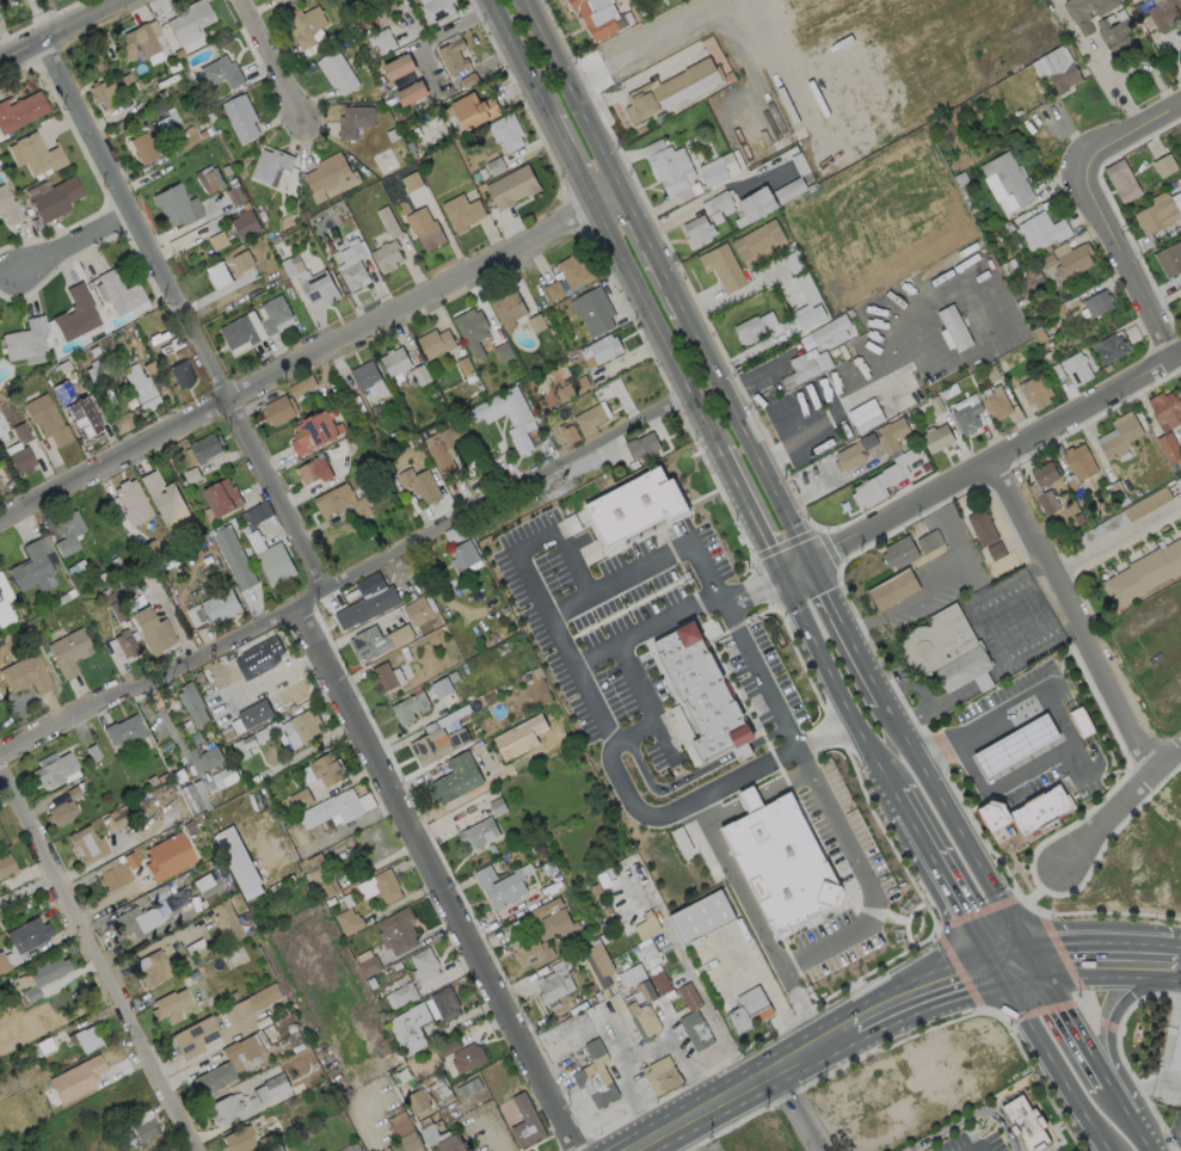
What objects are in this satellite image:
building: (279, 1)
building: (436, 10)
building: (1087, 11)
building: (1163, 12)
building: (597, 17)
building: (189, 21)
building: (306, 25)
road: (60, 29)
building: (1114, 35)
road: (435, 36)
building: (382, 41)
building: (137, 42)
road: (5, 43)
building: (453, 56)
road: (518, 59)
road: (273, 64)
building: (399, 67)
building: (1057, 68)
building: (220, 72)
building: (337, 72)
building: (670, 90)
building: (102, 93)
building: (411, 93)
road: (574, 98)
building: (20, 110)
building: (474, 110)
building: (240, 117)
building: (353, 121)
road: (1130, 127)
building: (506, 133)
building: (142, 148)
building: (38, 153)
building: (270, 165)
road: (572, 165)
building: (671, 167)
building: (718, 170)
building: (328, 176)
building: (1009, 176)
building: (209, 180)
building: (411, 180)
building: (1121, 181)
building: (512, 187)
building: (793, 187)
building: (687, 192)
road: (714, 192)
building: (54, 198)
building: (756, 203)
building: (174, 205)
building: (10, 207)
building: (462, 213)
building: (1156, 215)
building: (388, 222)
building: (245, 223)
building: (424, 228)
building: (696, 230)
building: (1041, 230)
building: (217, 240)
road: (75, 241)
building: (758, 242)
road: (653, 253)
building: (386, 256)
road: (1126, 257)
building: (1169, 259)
building: (242, 260)
building: (1072, 261)
building: (722, 266)
building: (573, 271)
building: (219, 273)
building: (353, 276)
building: (319, 288)
building: (807, 289)
building: (553, 290)
building: (119, 293)
building: (1096, 302)
building: (508, 309)
building: (592, 310)
building: (275, 313)
building: (75, 314)
road: (182, 315)
building: (802, 320)
building: (535, 322)
building: (954, 327)
building: (749, 328)
building: (470, 331)
road: (656, 331)
building: (238, 332)
building: (826, 333)
building: (24, 340)
building: (433, 343)
building: (603, 347)
building: (1109, 347)
building: (165, 349)
road: (312, 357)
building: (395, 363)
building: (805, 367)
building: (1076, 369)
building: (180, 374)
building: (367, 376)
building: (579, 382)
building: (142, 384)
building: (301, 386)
building: (1034, 390)
road: (835, 404)
building: (997, 404)
building: (498, 408)
building: (278, 410)
building: (1165, 410)
building: (967, 418)
building: (45, 419)
building: (81, 419)
building: (588, 419)
building: (314, 431)
building: (20, 432)
building: (568, 433)
building: (1121, 436)
road: (746, 437)
building: (936, 438)
building: (519, 441)
building: (871, 444)
building: (444, 445)
building: (641, 445)
building: (205, 447)
building: (1168, 447)
building: (20, 460)
road: (998, 466)
building: (1078, 466)
building: (314, 470)
building: (1045, 474)
building: (0, 485)
building: (419, 485)
building: (874, 486)
building: (222, 497)
building: (162, 499)
building: (338, 500)
building: (131, 501)
building: (635, 506)
road: (749, 513)
building: (983, 528)
building: (68, 533)
road: (555, 537)
road: (1118, 538)
building: (898, 553)
building: (462, 554)
building: (234, 558)
building: (275, 564)
building: (32, 566)
road: (795, 570)
building: (1143, 573)
road: (346, 579)
building: (893, 589)
road: (755, 590)
building: (4, 604)
building: (220, 607)
road: (567, 607)
building: (359, 610)
building: (418, 610)
road: (1077, 617)
road: (848, 630)
building: (150, 632)
building: (124, 644)
building: (368, 644)
road: (592, 651)
building: (946, 651)
building: (68, 652)
building: (262, 653)
building: (24, 676)
road: (763, 676)
building: (386, 677)
road: (839, 683)
building: (437, 689)
road: (1044, 689)
building: (702, 691)
building: (192, 704)
building: (410, 708)
building: (254, 714)
building: (1081, 721)
building: (302, 728)
building: (513, 730)
building: (124, 732)
road: (829, 733)
building: (459, 738)
road: (609, 740)
building: (430, 744)
building: (1016, 745)
building: (242, 746)
gas station: (1031, 751)
building: (210, 758)
road: (804, 758)
building: (326, 769)
building: (56, 771)
building: (223, 777)
building: (455, 780)
road: (782, 781)
road: (999, 782)
building: (195, 796)
road: (749, 798)
building: (300, 799)
building: (750, 799)
road: (903, 801)
road: (1120, 806)
building: (331, 810)
road: (722, 811)
building: (60, 813)
building: (1025, 814)
building: (117, 817)
road: (954, 820)
building: (478, 833)
road: (1029, 837)
building: (85, 844)
building: (166, 856)
building: (236, 862)
building: (5, 864)
building: (782, 864)
road: (1019, 869)
road: (1025, 870)
building: (112, 874)
building: (320, 876)
road: (437, 879)
road: (945, 880)
building: (205, 884)
building: (502, 885)
road: (869, 886)
building: (380, 887)
road: (991, 904)
building: (701, 917)
road: (758, 918)
building: (349, 921)
building: (134, 922)
building: (226, 922)
building: (554, 924)
building: (646, 925)
building: (398, 931)
building: (21, 941)
traffic signals: (1026, 943)
road: (1101, 943)
road: (1004, 946)
traffic signals: (983, 948)
building: (530, 949)
road: (1179, 954)
road: (99, 955)
building: (425, 964)
building: (598, 964)
building: (150, 968)
building: (43, 975)
building: (646, 983)
road: (917, 985)
building: (552, 987)
building: (401, 995)
building: (689, 996)
building: (250, 1003)
road: (1114, 1003)
building: (443, 1004)
building: (168, 1005)
building: (748, 1010)
road: (1064, 1012)
building: (642, 1020)
building: (410, 1028)
building: (696, 1032)
building: (192, 1038)
building: (82, 1039)
building: (1175, 1044)
building: (43, 1046)
road: (1044, 1050)
road: (644, 1053)
building: (467, 1058)
building: (226, 1065)
building: (597, 1077)
building: (663, 1077)
building: (75, 1078)
building: (270, 1084)
road: (736, 1087)
road: (1119, 1098)
building: (417, 1101)
building: (223, 1109)
road: (789, 1109)
road: (757, 1118)
road: (970, 1119)
building: (1027, 1121)
building: (524, 1122)
road: (364, 1126)
building: (142, 1131)
building: (404, 1132)
road: (1144, 1133)
road: (678, 1137)
building: (439, 1138)
building: (236, 1140)
parking lot: (974, 1140)
road: (1168, 1145)
building: (344, 1150)
parking lot: (1072, 1150)

